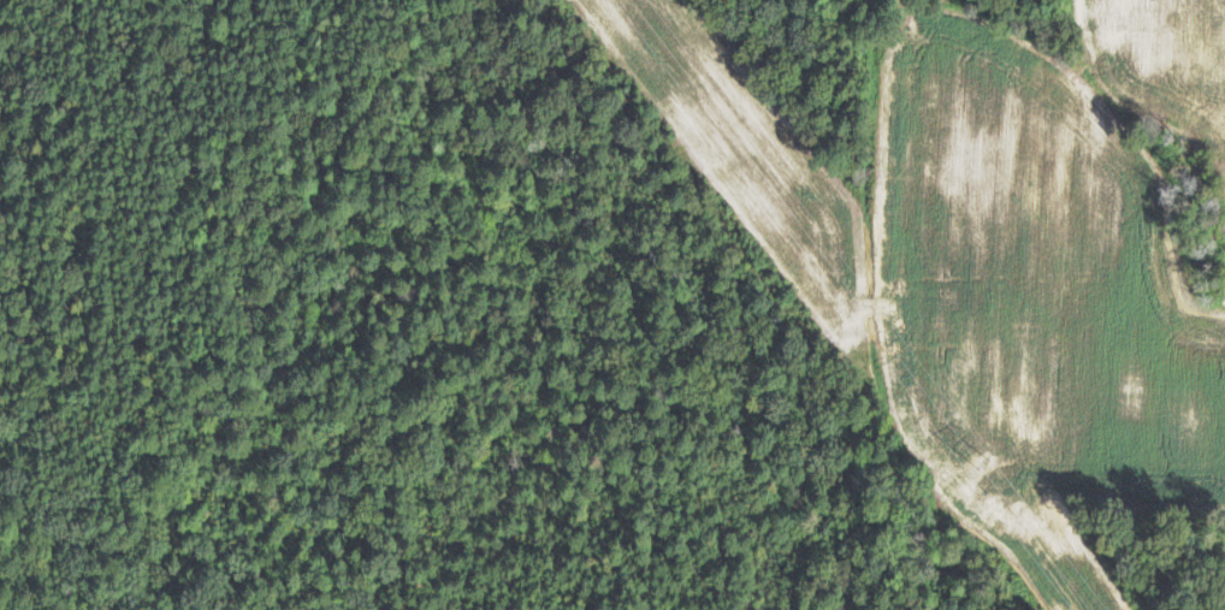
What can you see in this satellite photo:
power tower: (978, 464)

